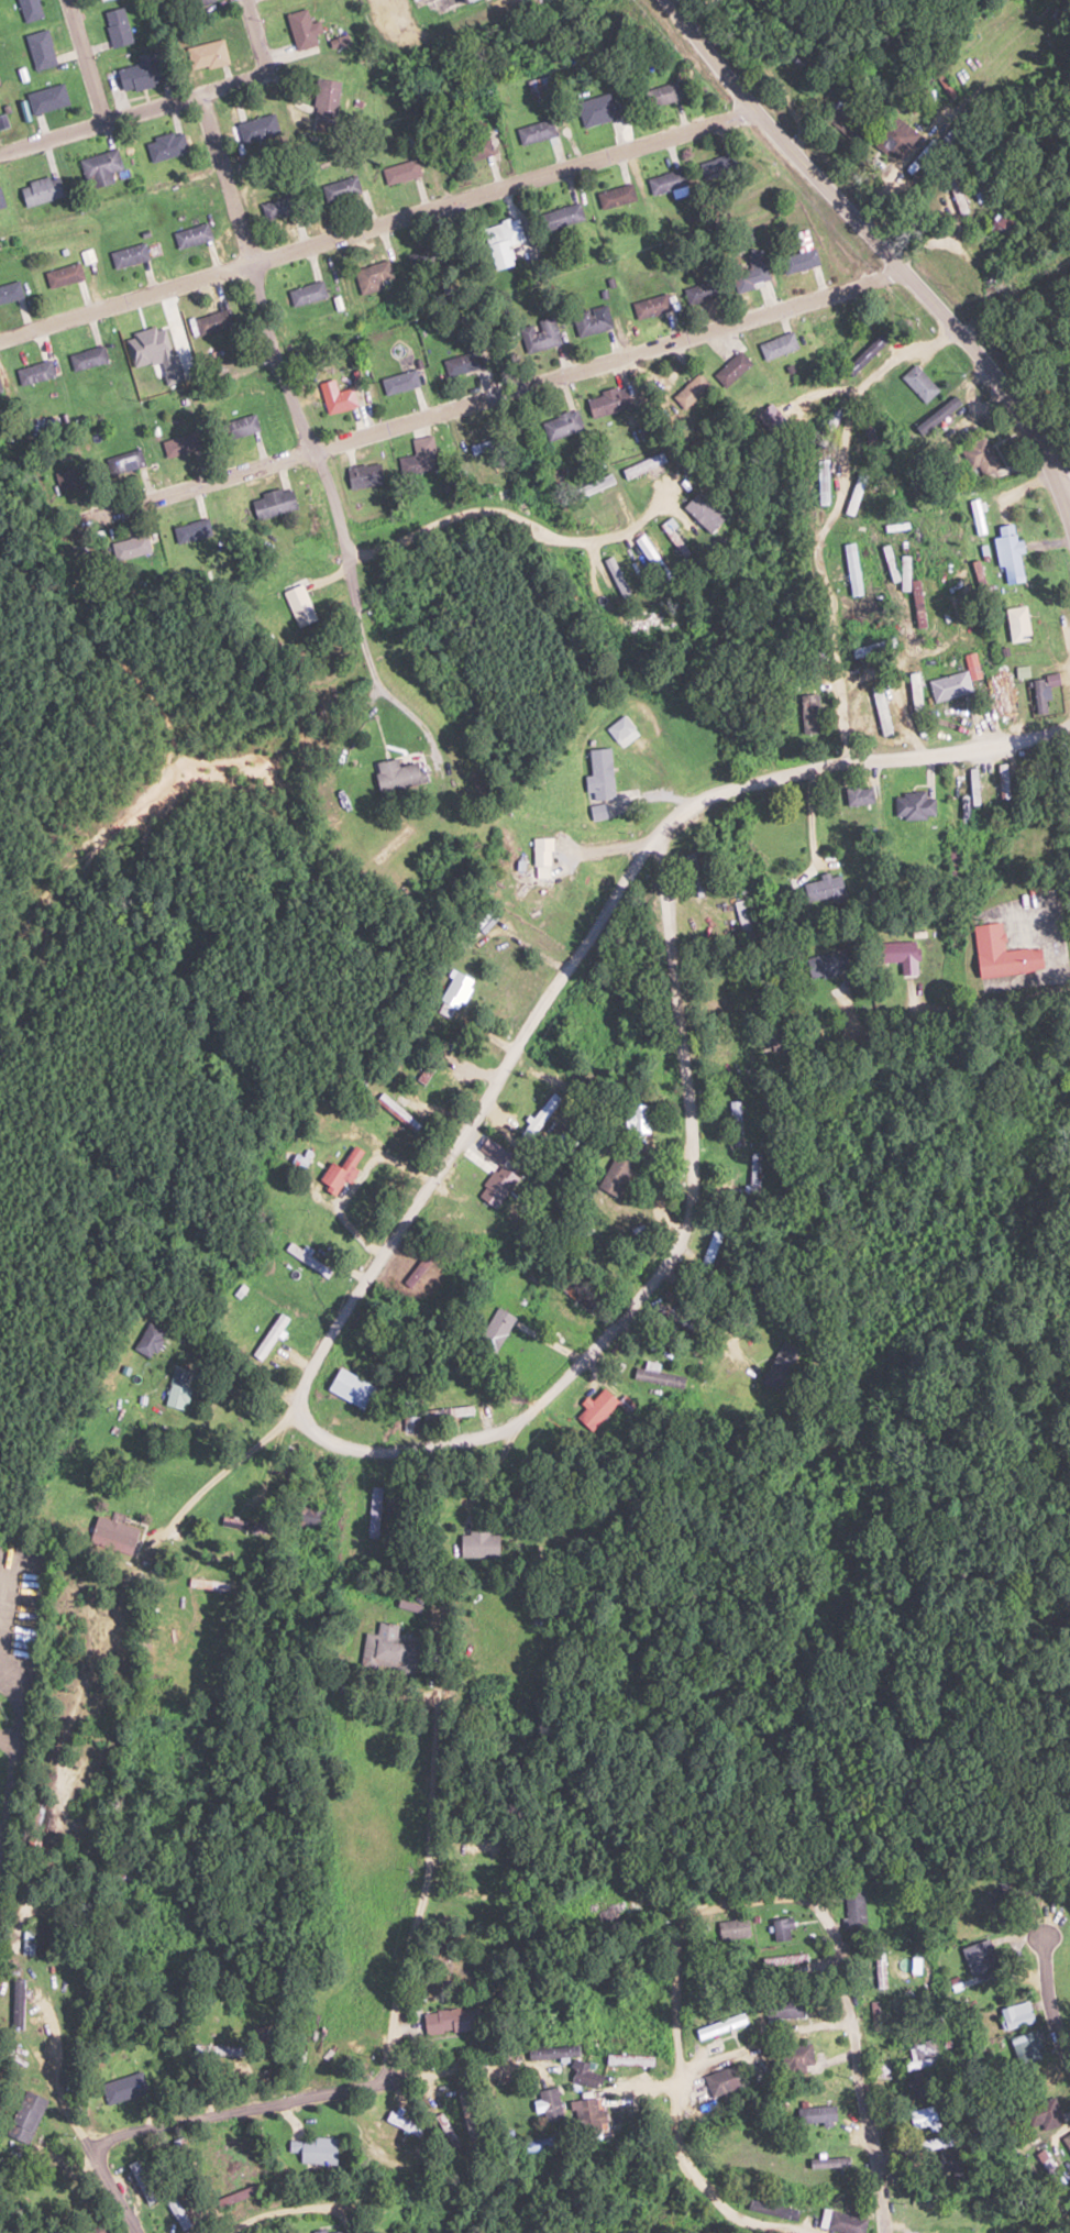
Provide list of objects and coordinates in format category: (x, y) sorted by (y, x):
building: (98, 0)
building: (460, 1)
building: (201, 2)
building: (29, 9)
building: (119, 26)
building: (301, 29)
road: (258, 35)
building: (40, 50)
building: (207, 55)
road: (85, 61)
building: (141, 73)
building: (662, 94)
building: (46, 99)
building: (324, 99)
road: (134, 111)
building: (596, 112)
building: (847, 123)
building: (256, 129)
building: (896, 130)
building: (537, 132)
building: (166, 146)
building: (473, 151)
building: (103, 167)
building: (718, 167)
building: (399, 172)
building: (666, 182)
building: (340, 189)
building: (956, 189)
building: (41, 190)
building: (617, 196)
building: (1, 200)
building: (277, 208)
building: (563, 216)
road: (376, 221)
building: (999, 222)
building: (189, 234)
building: (501, 241)
road: (889, 252)
building: (126, 254)
building: (424, 258)
building: (798, 261)
road: (253, 269)
building: (751, 271)
building: (60, 274)
building: (369, 276)
building: (9, 290)
building: (702, 291)
building: (306, 293)
building: (652, 306)
building: (595, 319)
building: (212, 321)
building: (539, 335)
building: (142, 342)
building: (775, 345)
building: (865, 354)
building: (85, 358)
building: (459, 363)
building: (731, 369)
building: (35, 372)
building: (397, 382)
building: (698, 382)
building: (920, 383)
building: (338, 400)
building: (608, 402)
road: (453, 406)
building: (938, 416)
building: (829, 422)
building: (560, 425)
building: (239, 426)
building: (177, 446)
building: (980, 457)
building: (122, 462)
building: (416, 463)
building: (495, 463)
building: (644, 465)
building: (363, 475)
building: (591, 486)
road: (1067, 496)
building: (272, 503)
building: (853, 505)
building: (980, 516)
building: (189, 531)
building: (671, 538)
building: (126, 548)
building: (1011, 552)
building: (654, 554)
building: (856, 574)
building: (616, 576)
building: (919, 603)
building: (297, 604)
building: (1017, 624)
building: (974, 664)
building: (951, 686)
building: (1043, 693)
road: (916, 707)
building: (808, 713)
building: (880, 714)
building: (619, 727)
building: (396, 761)
road: (858, 762)
building: (599, 773)
building: (856, 795)
building: (912, 804)
building: (539, 856)
building: (696, 878)
building: (818, 887)
building: (748, 919)
building: (1002, 953)
building: (895, 955)
building: (821, 965)
building: (453, 994)
road: (985, 1041)
building: (422, 1076)
building: (395, 1111)
building: (635, 1120)
building: (339, 1170)
building: (495, 1186)
building: (708, 1248)
building: (304, 1255)
building: (443, 1279)
building: (495, 1330)
building: (271, 1336)
building: (146, 1339)
building: (351, 1388)
building: (742, 1393)
building: (176, 1396)
building: (599, 1406)
road: (387, 1451)
road: (228, 1476)
road: (471, 1515)
building: (309, 1516)
building: (115, 1531)
building: (385, 1649)
building: (477, 1846)
road: (730, 1903)
building: (857, 1910)
building: (608, 1914)
building: (737, 1928)
building: (786, 1929)
building: (25, 1947)
building: (980, 1957)
road: (1045, 1994)
building: (15, 2003)
building: (1016, 2015)
building: (906, 2019)
building: (448, 2021)
building: (722, 2024)
building: (205, 2049)
building: (551, 2051)
building: (925, 2054)
building: (794, 2058)
building: (753, 2070)
building: (581, 2075)
building: (716, 2082)
building: (122, 2088)
road: (293, 2104)
building: (548, 2104)
building: (1044, 2113)
building: (815, 2114)
building: (22, 2115)
building: (585, 2116)
building: (924, 2117)
building: (402, 2124)
road: (82, 2133)
building: (1067, 2141)
building: (531, 2144)
building: (312, 2150)
building: (831, 2161)
building: (953, 2166)
building: (140, 2179)
building: (774, 2209)
road: (280, 2214)
building: (846, 2222)
building: (92, 2229)
building: (324, 2230)

